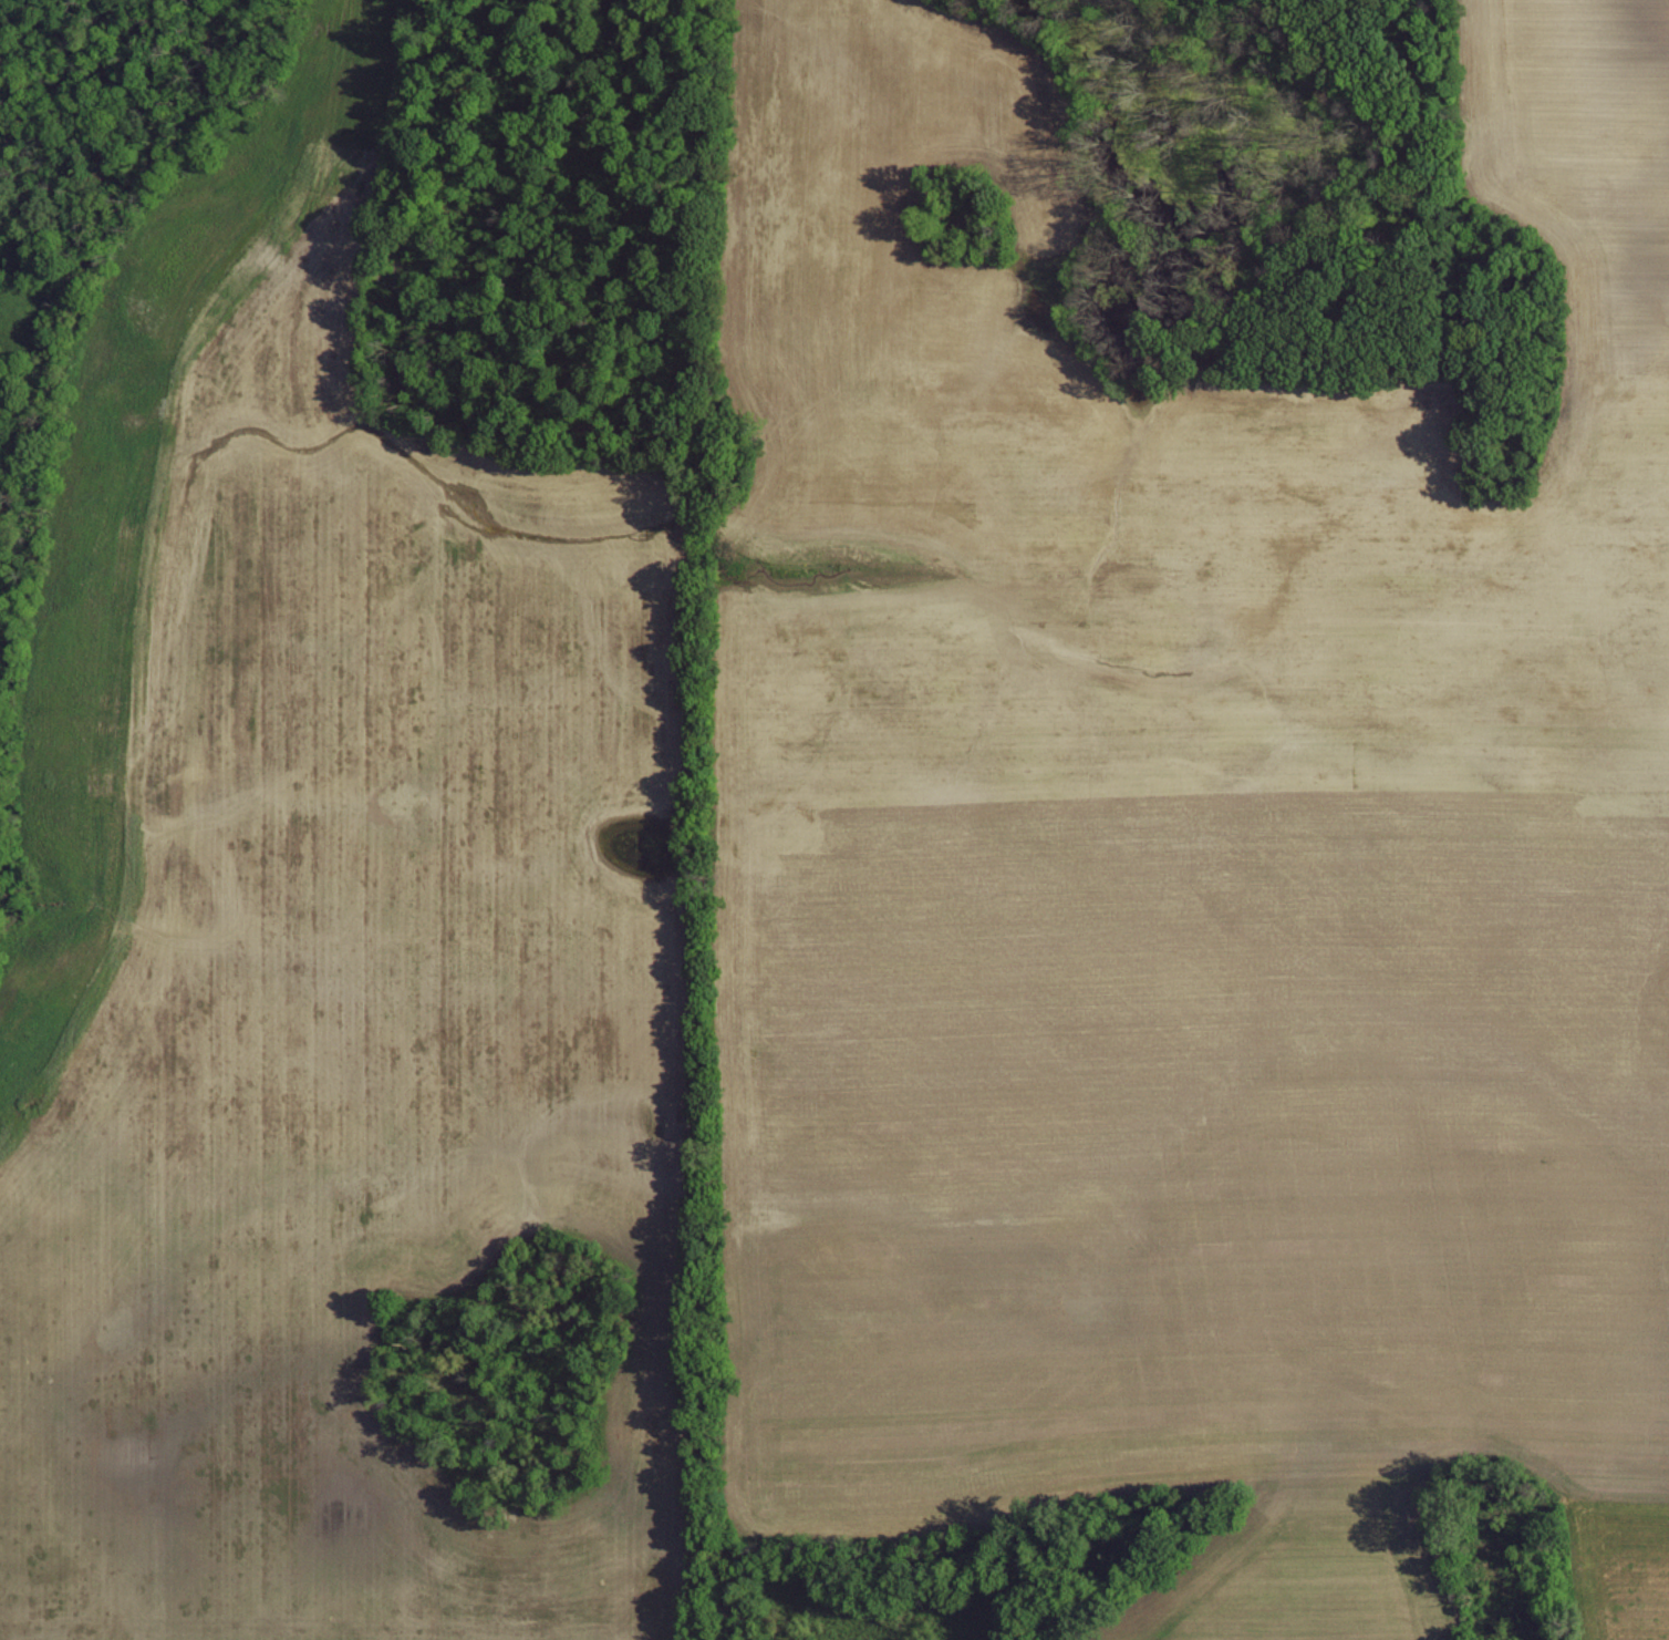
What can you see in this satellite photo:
crop: (1188, 839)
crop: (362, 1035)
crop: (1303, 1576)

